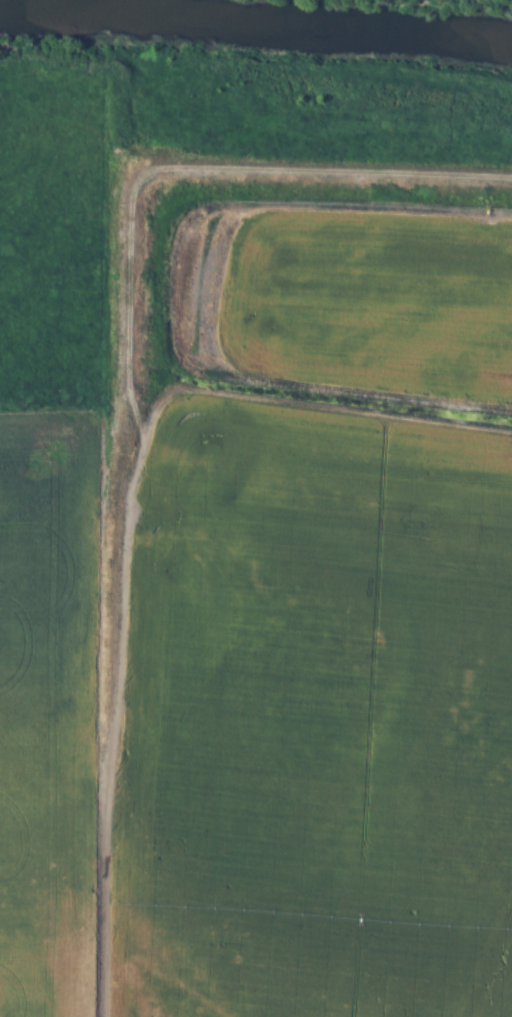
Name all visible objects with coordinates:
river: (256, 27)

